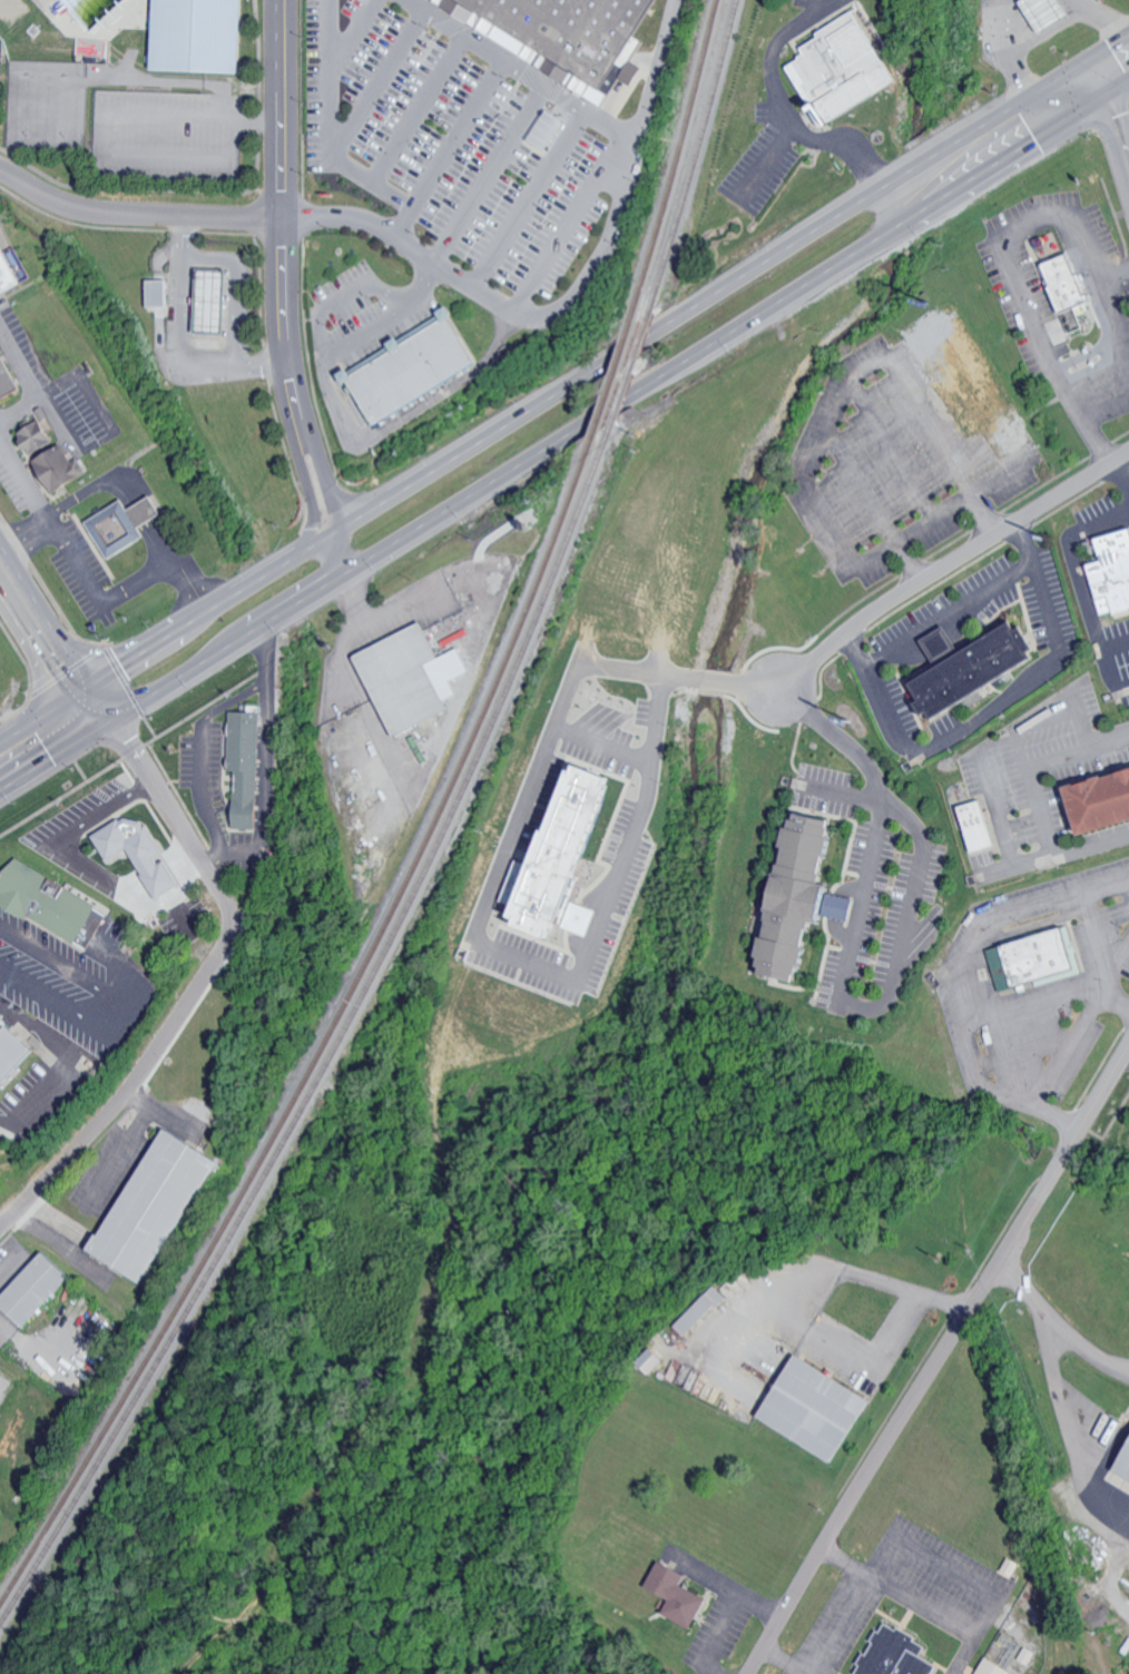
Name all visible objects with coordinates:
road: (816, 7)
road: (825, 7)
building: (1045, 12)
road: (1100, 18)
road: (352, 35)
building: (575, 36)
building: (194, 39)
road: (1008, 45)
traffic signals: (1102, 46)
building: (844, 67)
road: (657, 71)
road: (379, 81)
road: (1116, 90)
traffic signals: (1116, 90)
road: (420, 107)
road: (331, 126)
parking lot: (167, 129)
road: (804, 130)
building: (549, 131)
parking lot: (455, 138)
road: (451, 147)
railway: (676, 156)
railway: (695, 158)
road: (493, 174)
road: (134, 216)
road: (571, 221)
road: (602, 253)
building: (10, 268)
road: (277, 269)
road: (1021, 275)
building: (1063, 284)
building: (158, 293)
building: (217, 299)
road: (1117, 323)
road: (179, 339)
road: (330, 348)
building: (414, 367)
railway: (612, 373)
building: (8, 377)
railway: (627, 377)
road: (563, 381)
road: (829, 414)
building: (41, 436)
road: (564, 437)
building: (63, 469)
road: (1120, 483)
building: (130, 524)
road: (26, 534)
road: (330, 558)
road: (909, 563)
road: (952, 568)
building: (1115, 570)
road: (85, 572)
road: (1084, 589)
road: (954, 609)
road: (53, 646)
building: (970, 669)
building: (414, 677)
traffic signals: (81, 686)
road: (236, 697)
road: (998, 708)
traffic signals: (108, 727)
road: (600, 745)
building: (251, 766)
road: (267, 769)
road: (200, 786)
road: (1035, 801)
building: (1103, 801)
road: (99, 810)
building: (981, 826)
building: (143, 854)
building: (566, 859)
building: (804, 895)
building: (49, 900)
road: (132, 905)
road: (481, 908)
road: (1093, 941)
road: (846, 955)
building: (1033, 961)
road: (196, 989)
road: (1118, 996)
road: (1035, 1000)
road: (109, 1005)
railway: (330, 1033)
road: (971, 1043)
railway: (336, 1045)
building: (13, 1053)
road: (53, 1060)
road: (1059, 1120)
road: (125, 1146)
building: (160, 1207)
road: (881, 1283)
road: (1030, 1289)
building: (37, 1290)
road: (777, 1292)
building: (696, 1310)
road: (890, 1340)
road: (1088, 1346)
building: (646, 1360)
road: (941, 1365)
building: (806, 1408)
road: (1071, 1431)
building: (1119, 1460)
road: (208, 1525)
road: (1110, 1566)
road: (125, 1592)
building: (668, 1594)
road: (501, 1602)
road: (925, 1602)
road: (732, 1611)
road: (847, 1623)
building: (887, 1654)
road: (796, 1658)
building: (988, 1667)

